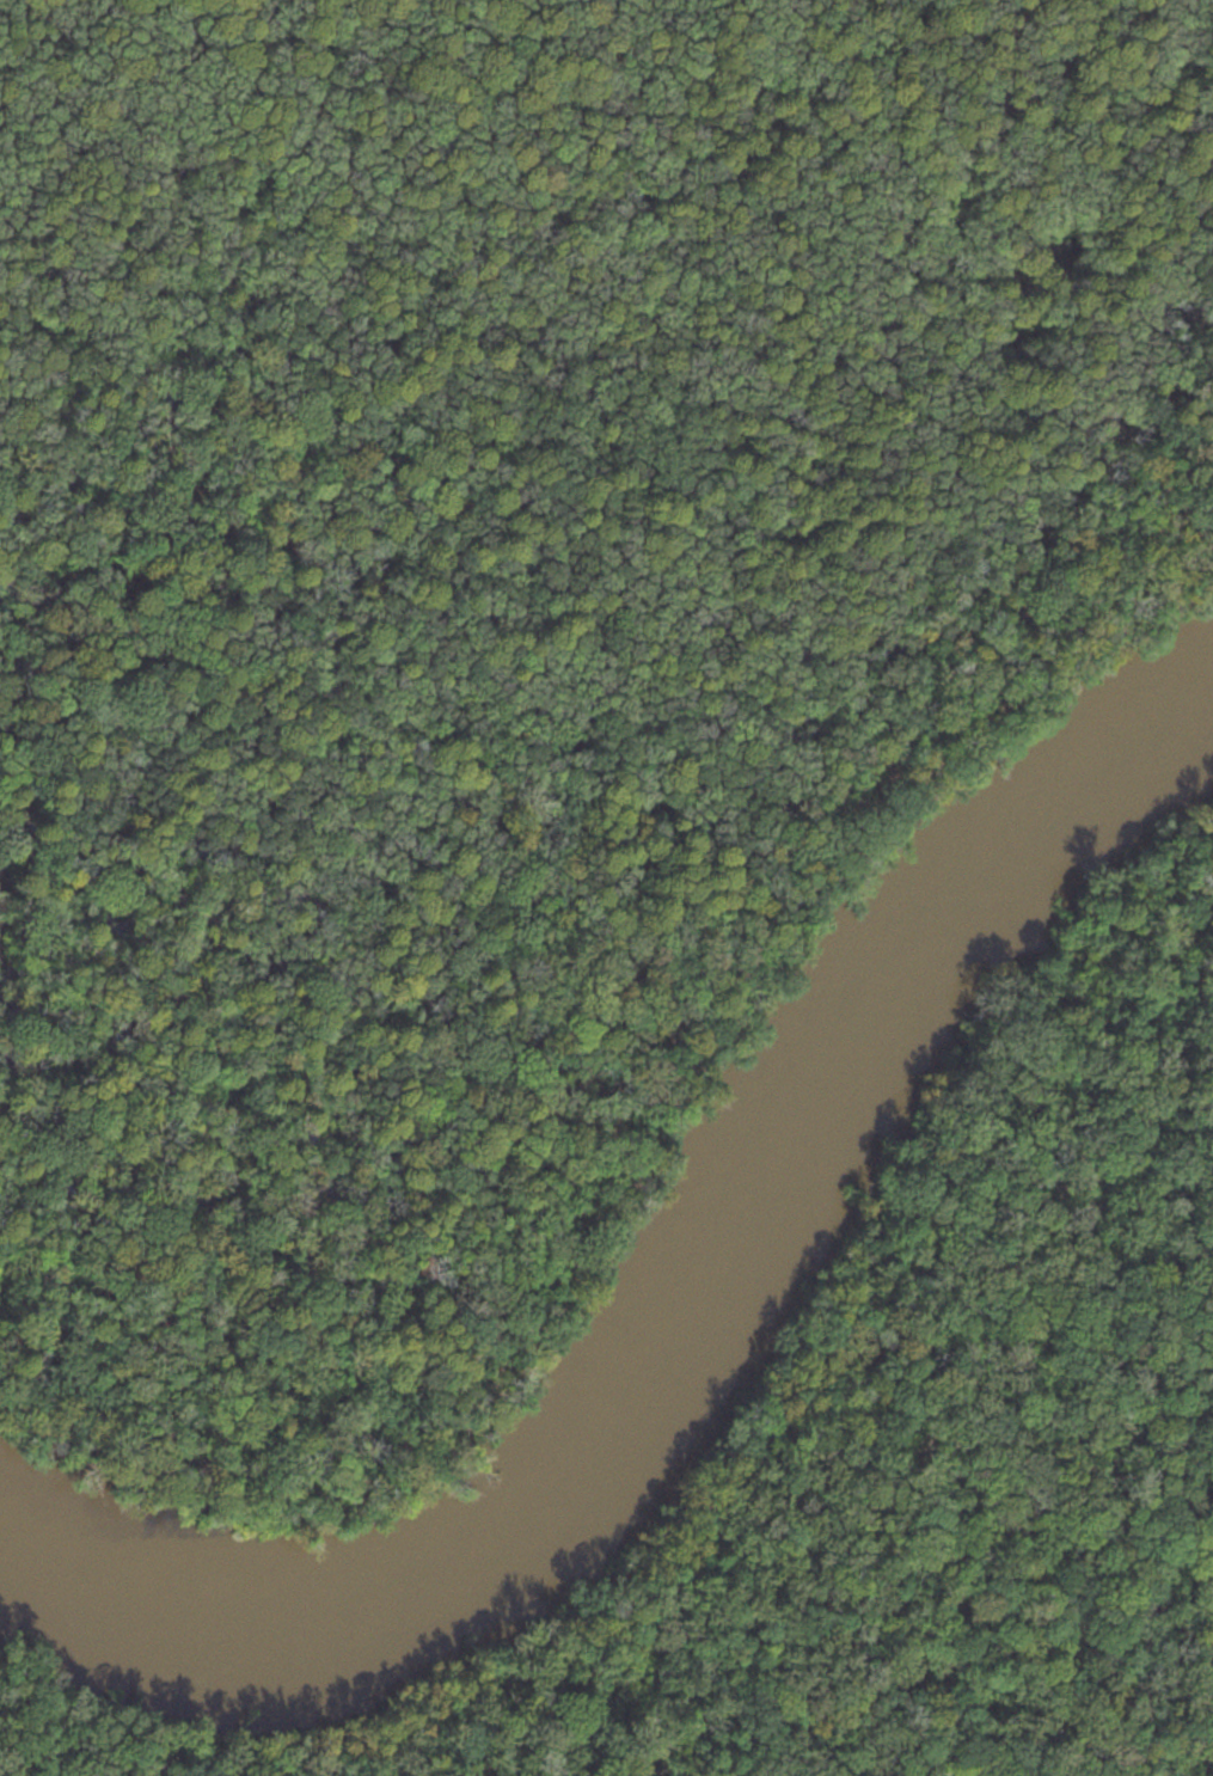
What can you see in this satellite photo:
building: (1212, 1027)
river: (664, 1284)

